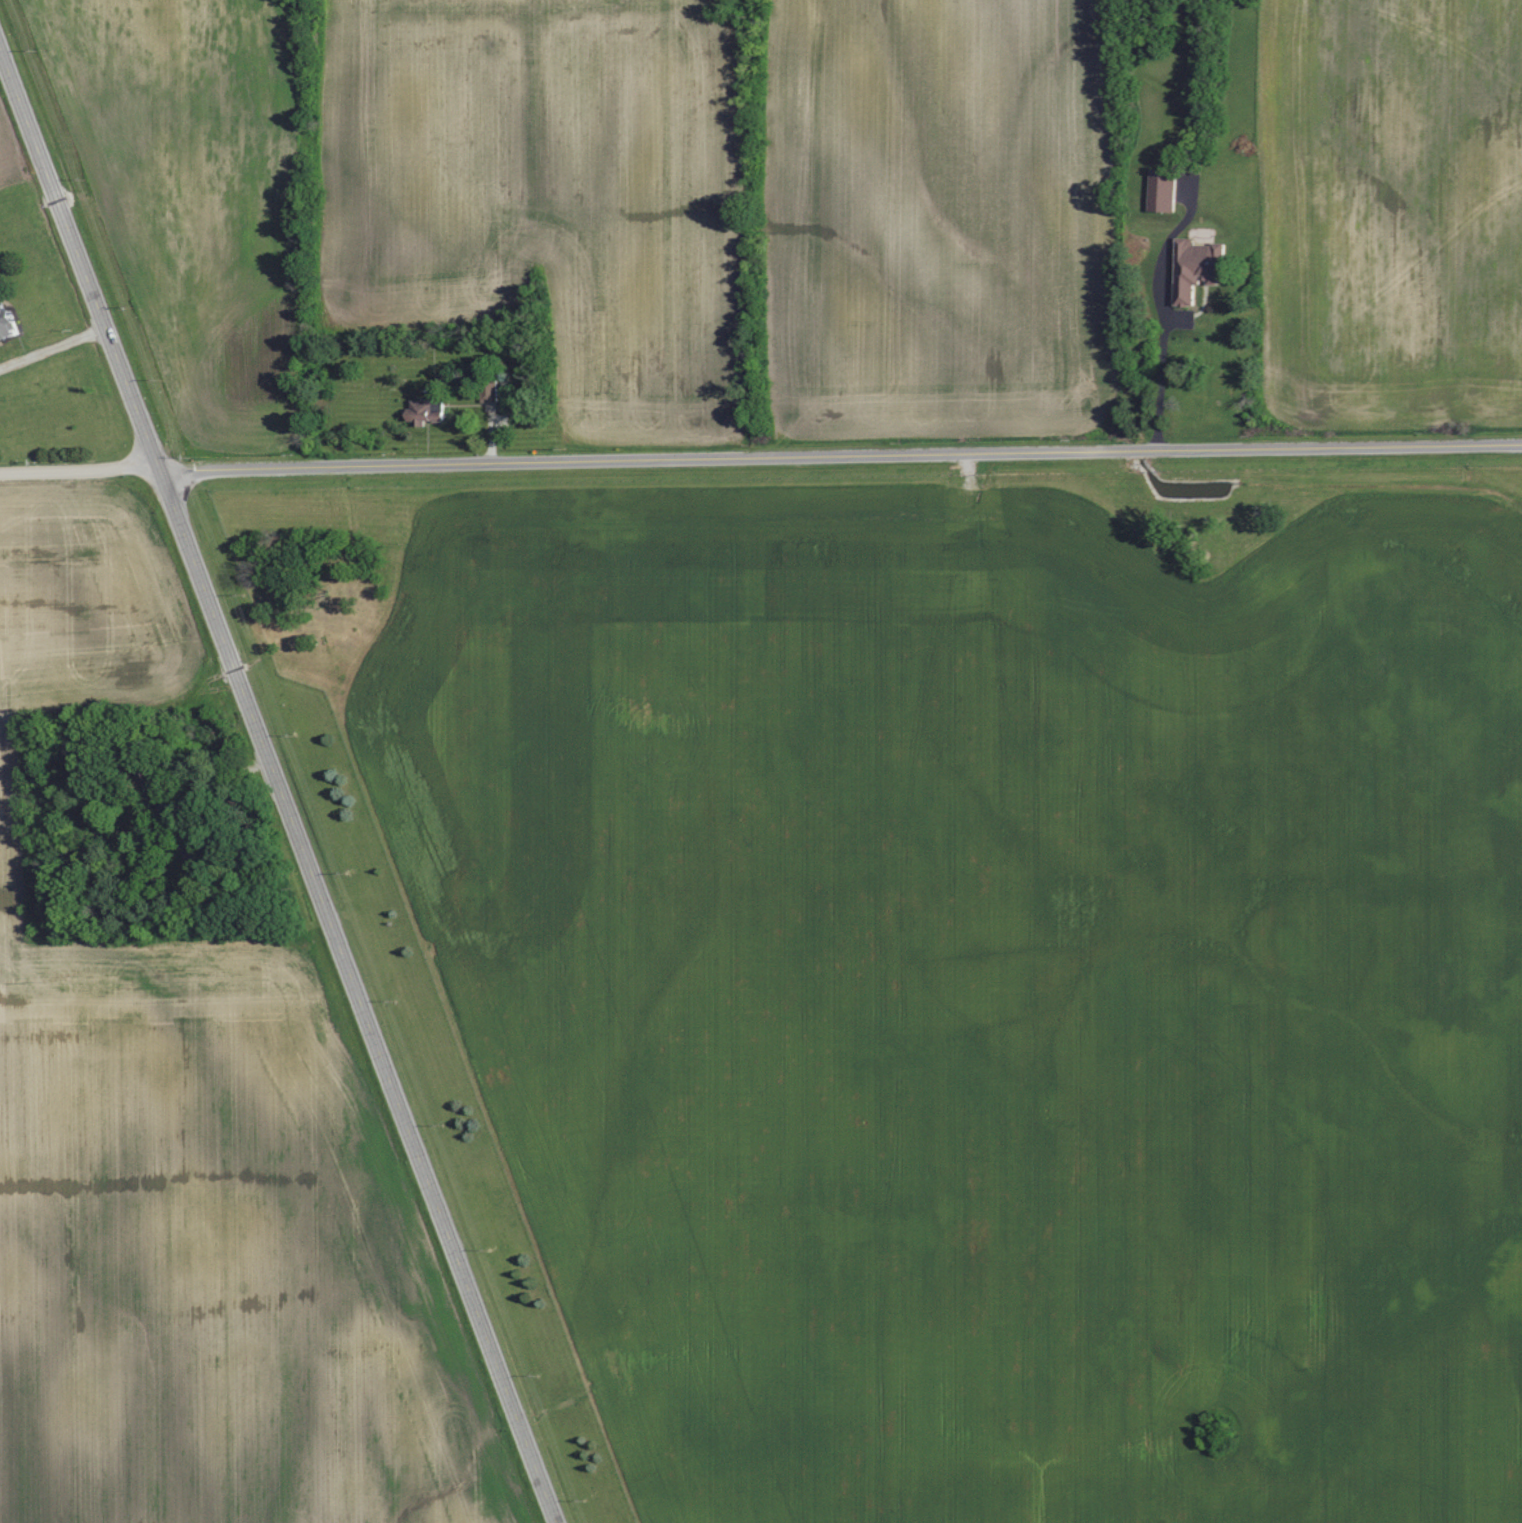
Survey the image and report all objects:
building: (1165, 192)
building: (1200, 269)
building: (7, 324)
road: (51, 344)
road: (1161, 386)
building: (427, 412)
road: (843, 462)
road: (82, 475)
road: (278, 788)

